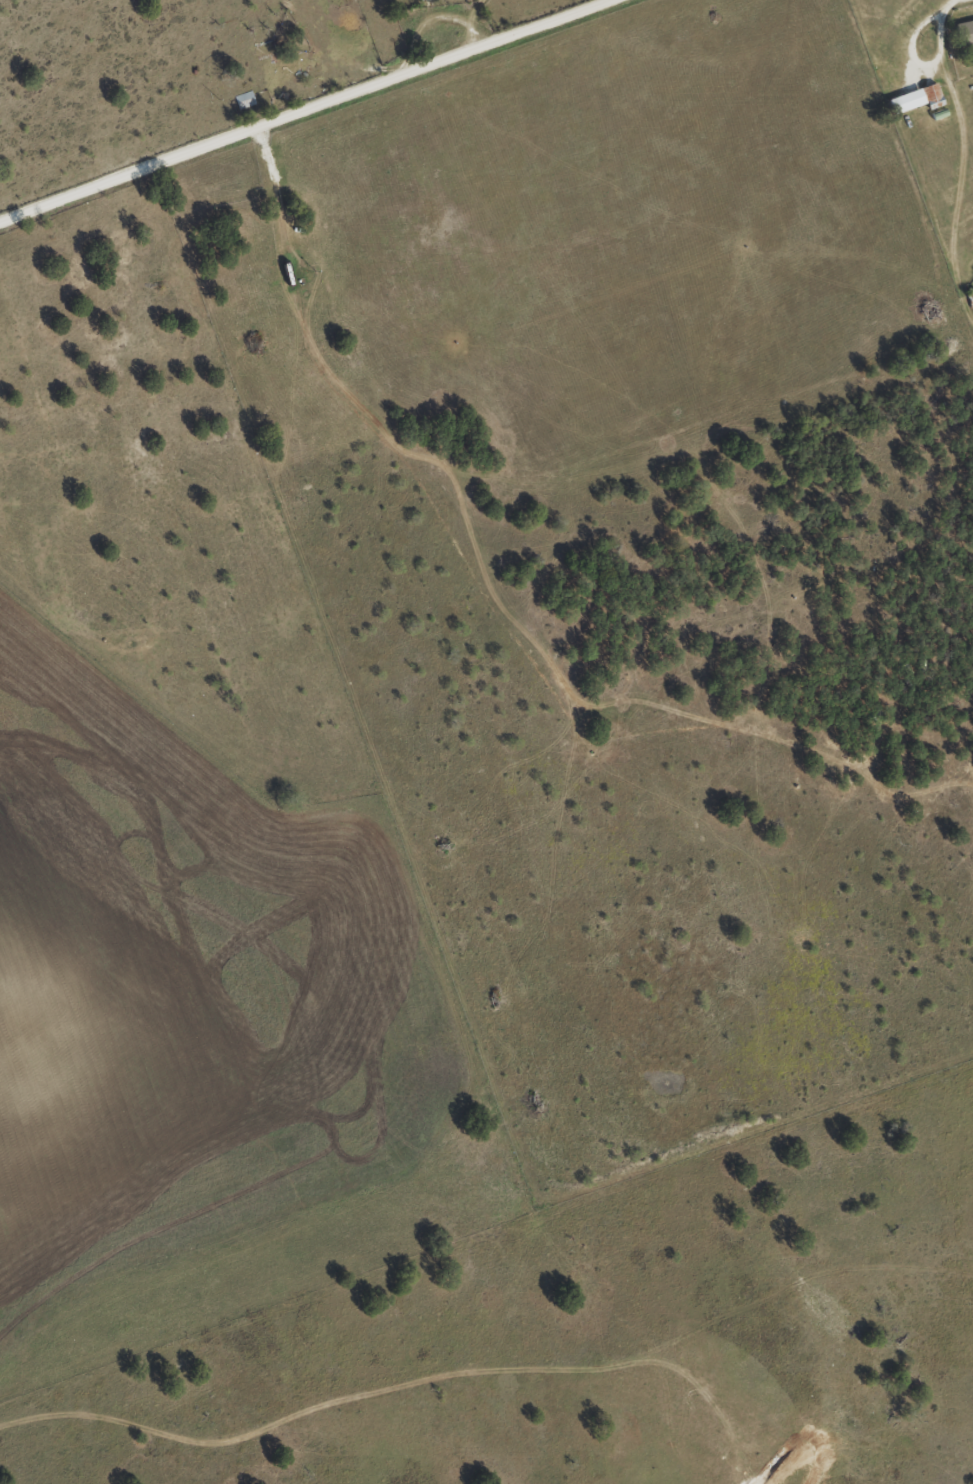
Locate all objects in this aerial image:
building: (425, 0)
building: (964, 31)
building: (916, 98)
building: (244, 99)
road: (293, 108)
road: (623, 233)

